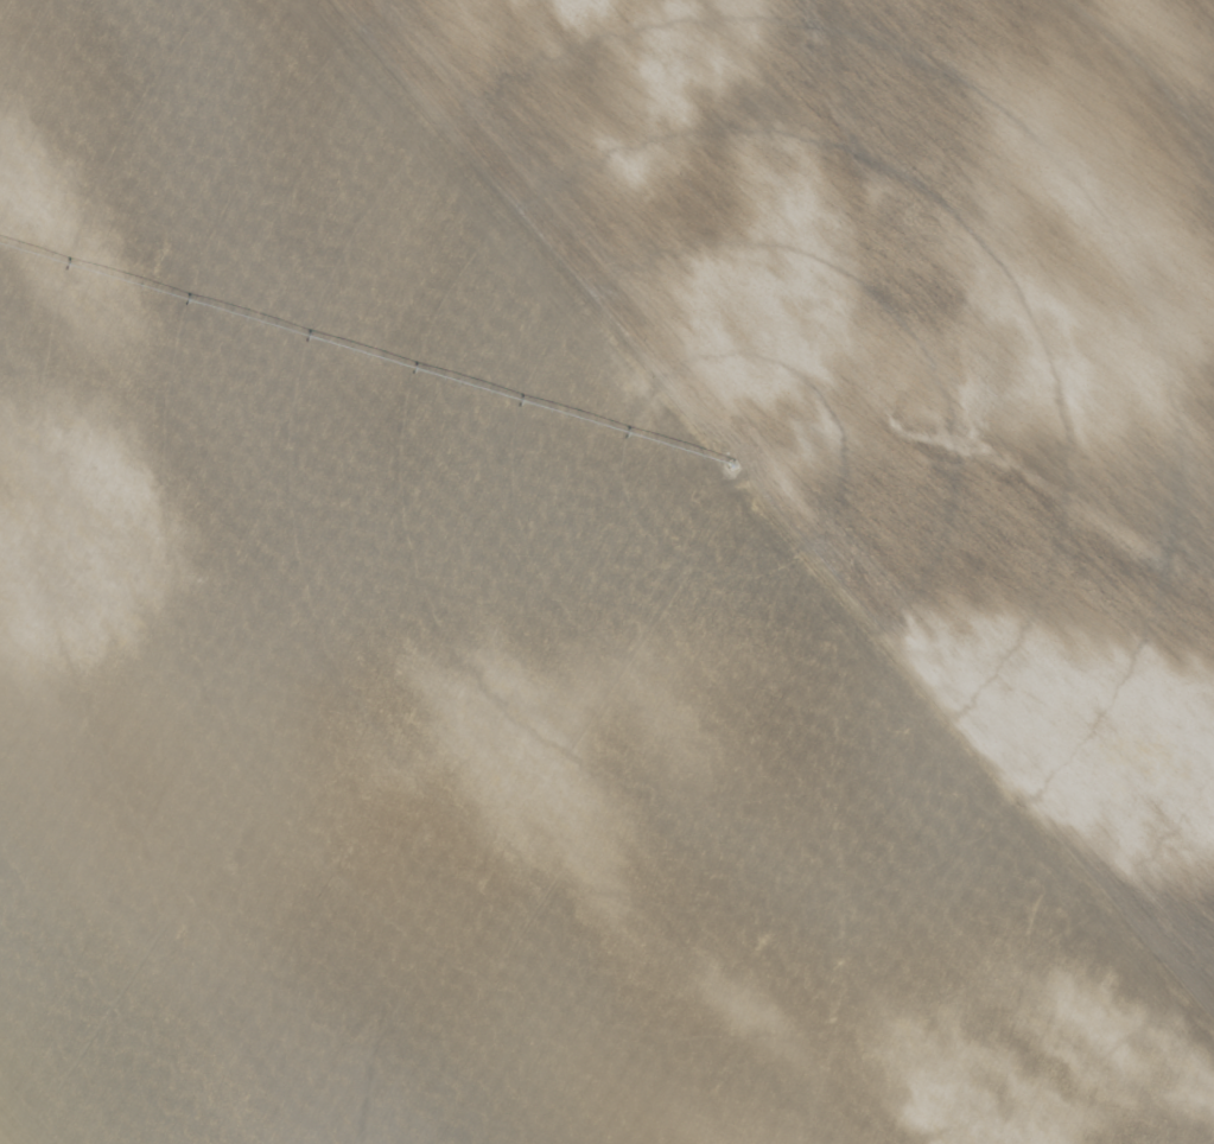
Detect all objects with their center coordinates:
road: (1111, 1067)
railway: (0, 1143)

